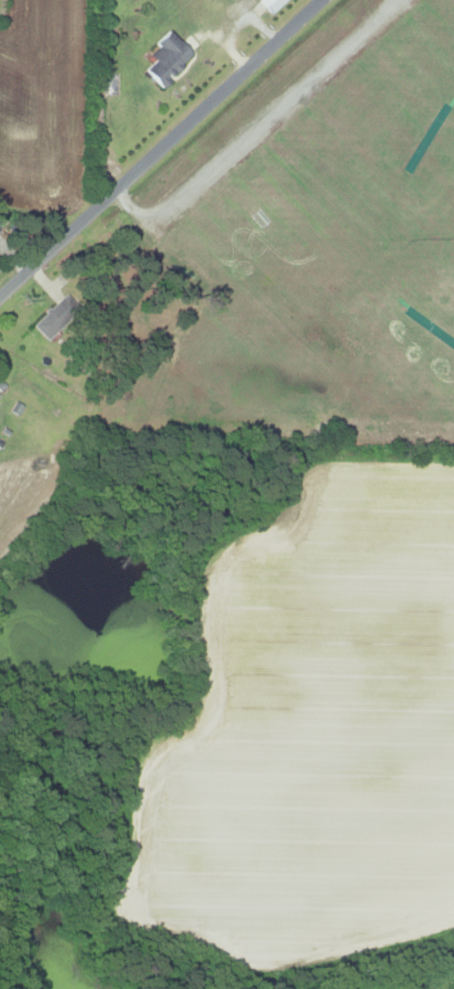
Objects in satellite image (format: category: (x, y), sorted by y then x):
building: (270, 5)
building: (165, 59)
building: (108, 85)
road: (254, 123)
road: (160, 149)
park: (313, 227)
building: (55, 315)
crop: (309, 737)

